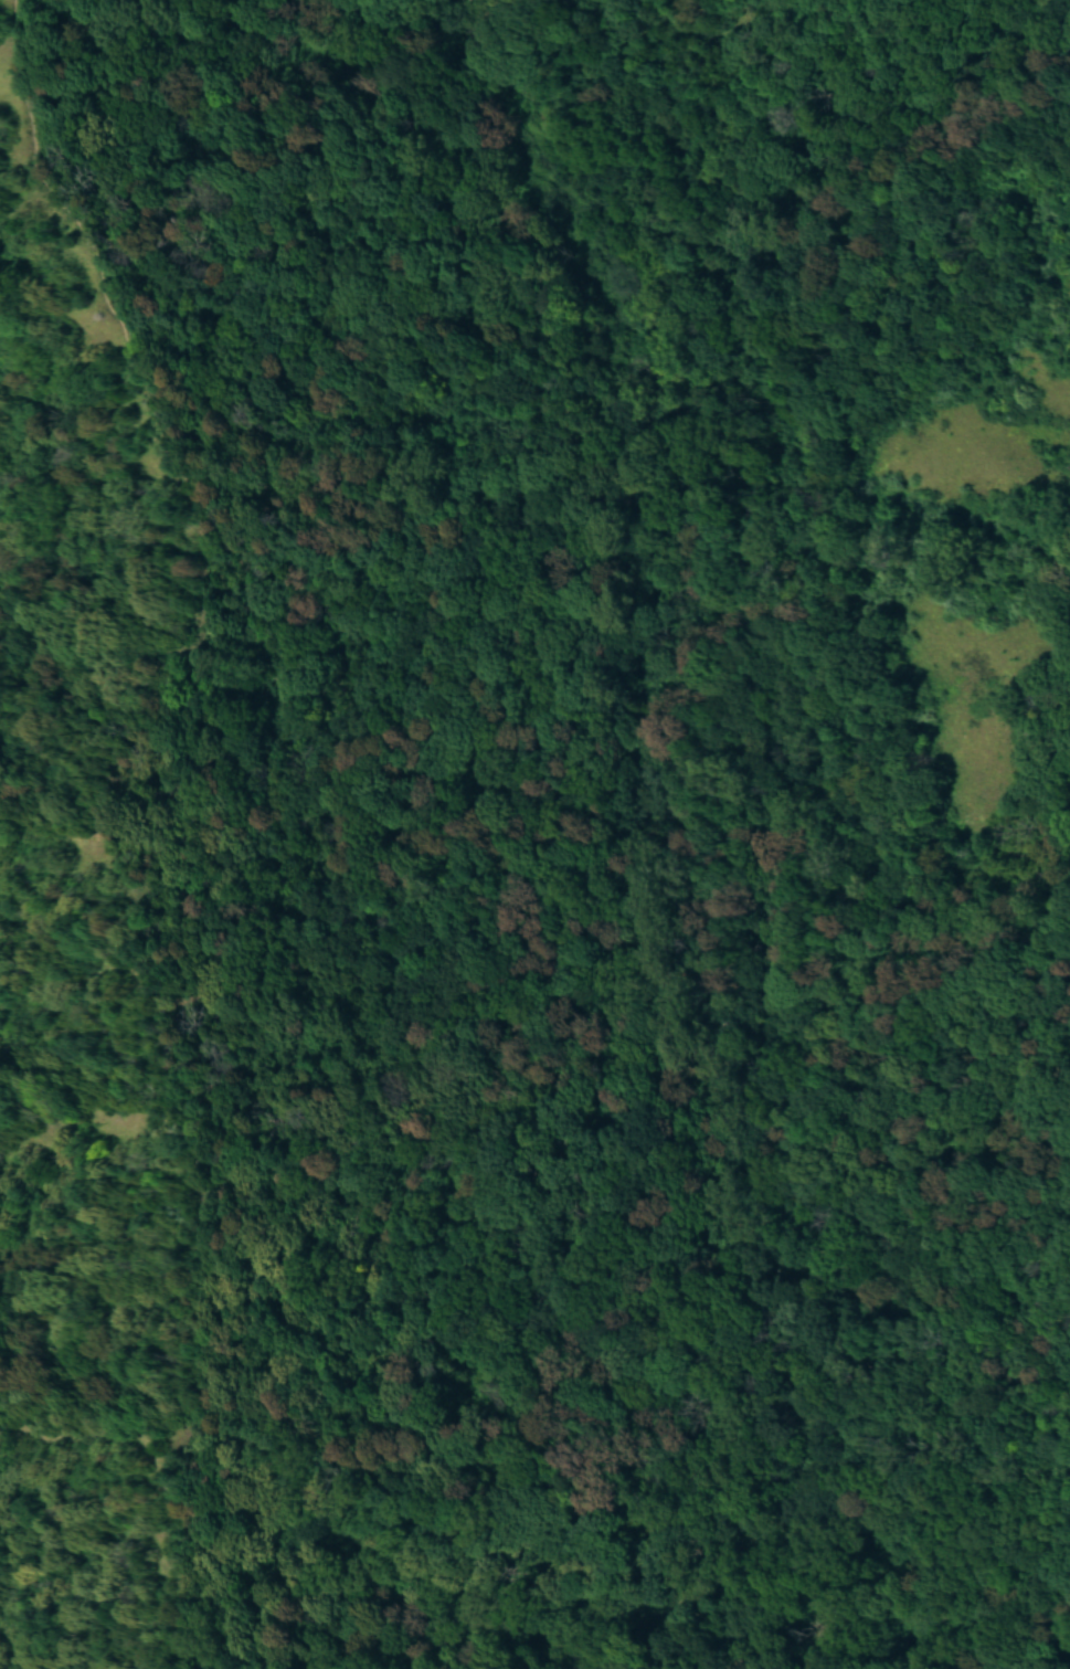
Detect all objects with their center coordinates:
road: (445, 590)

